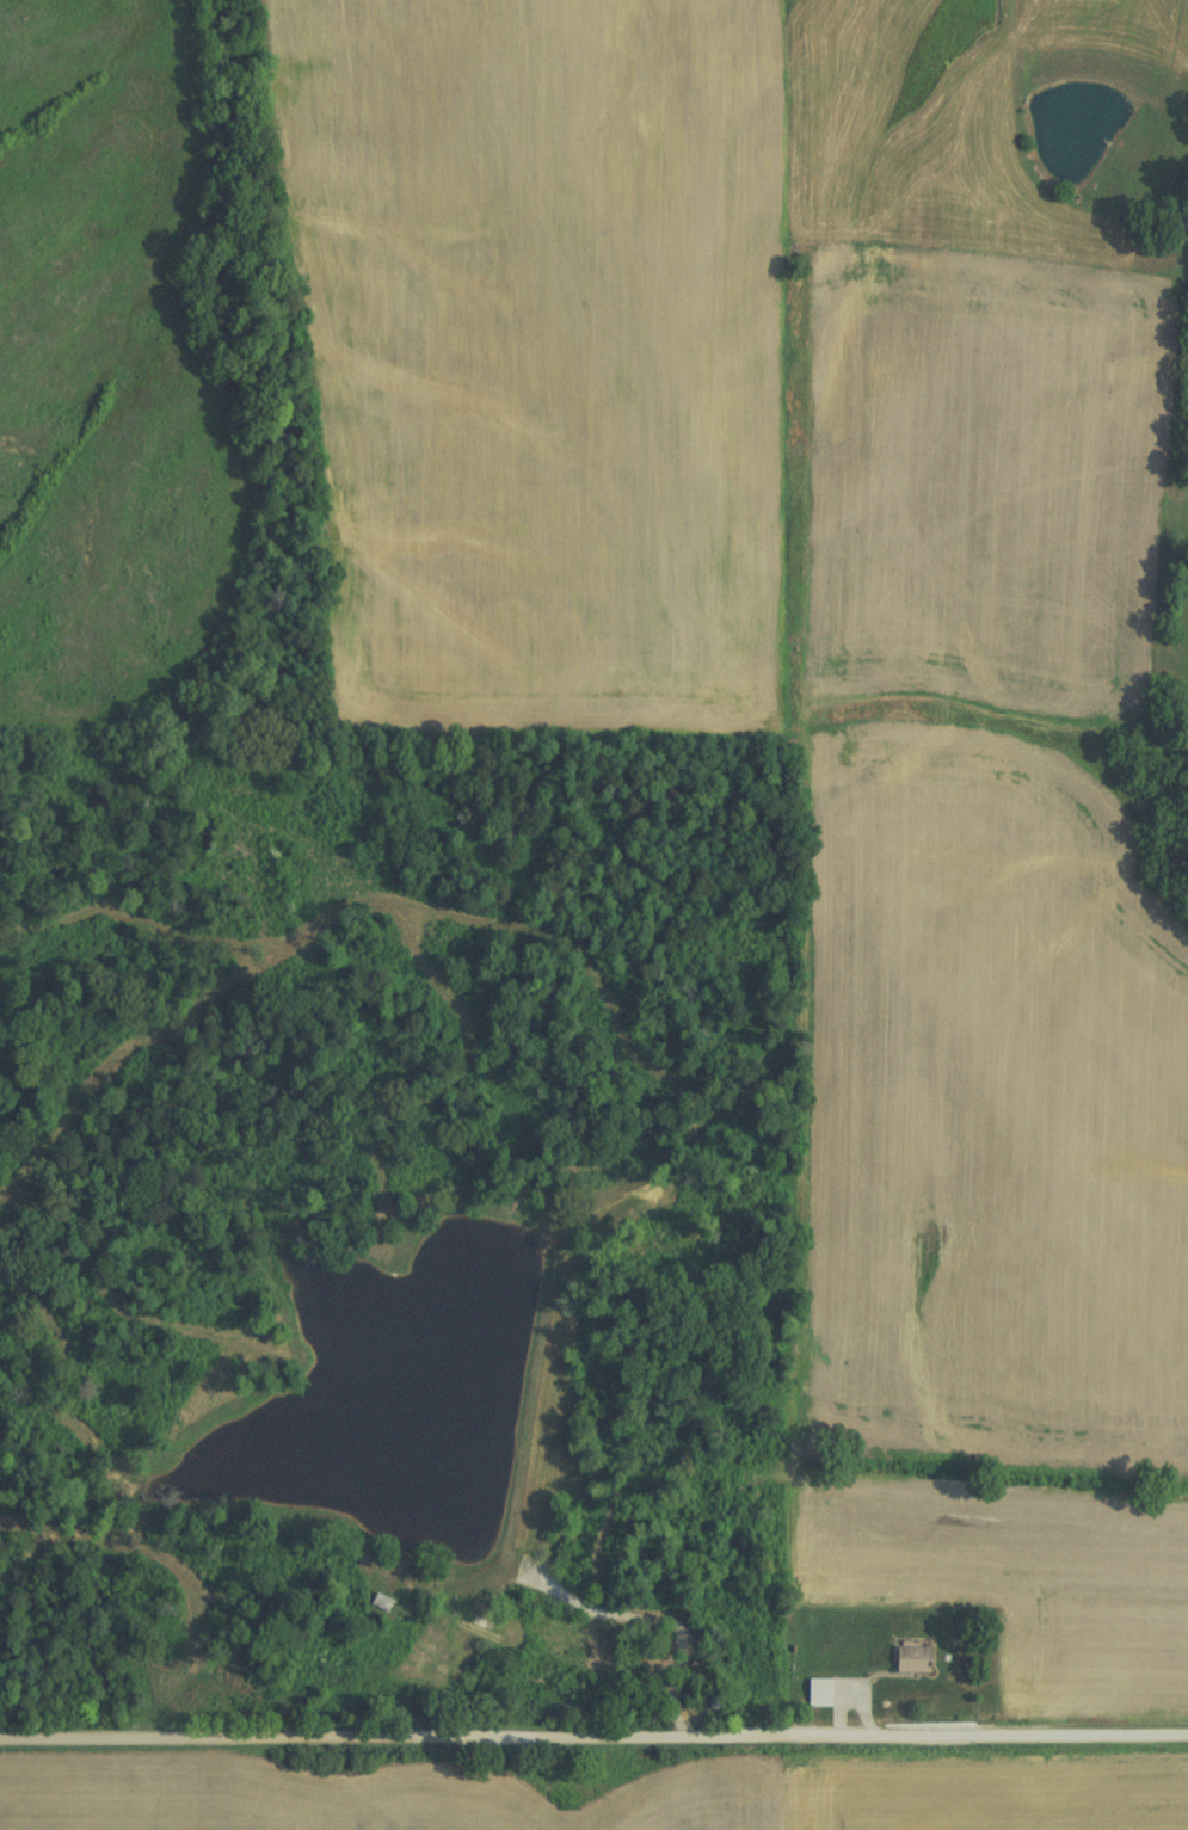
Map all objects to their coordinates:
road: (635, 1606)
building: (903, 1659)
building: (812, 1688)
road: (593, 1736)

